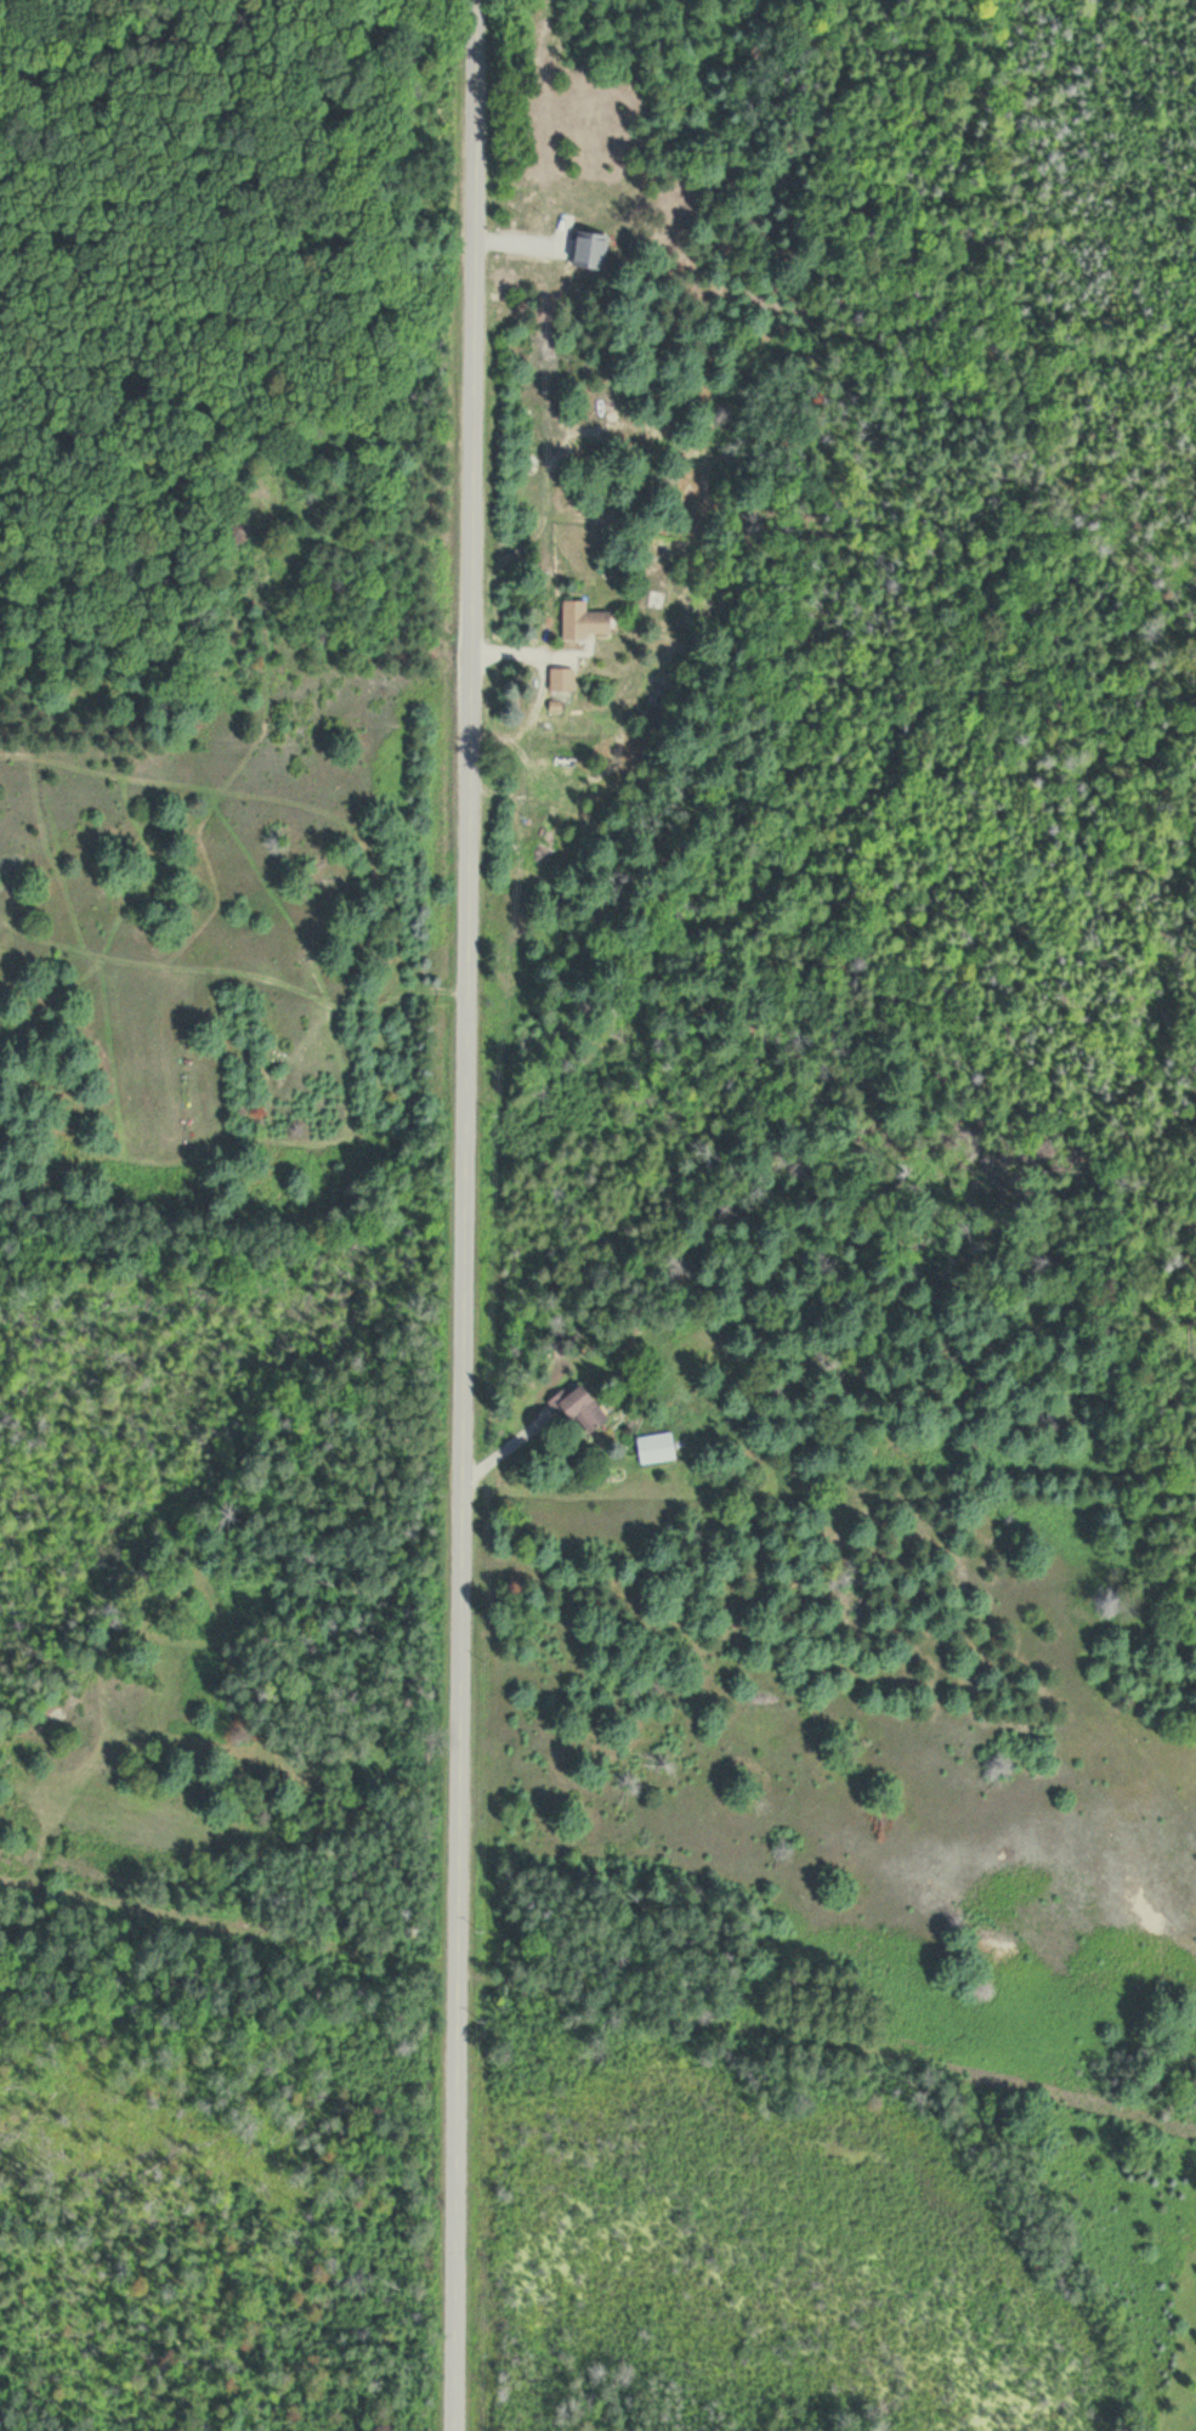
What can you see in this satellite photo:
building: (590, 251)
building: (583, 621)
building: (561, 680)
road: (460, 1215)
building: (579, 1407)
building: (656, 1447)

